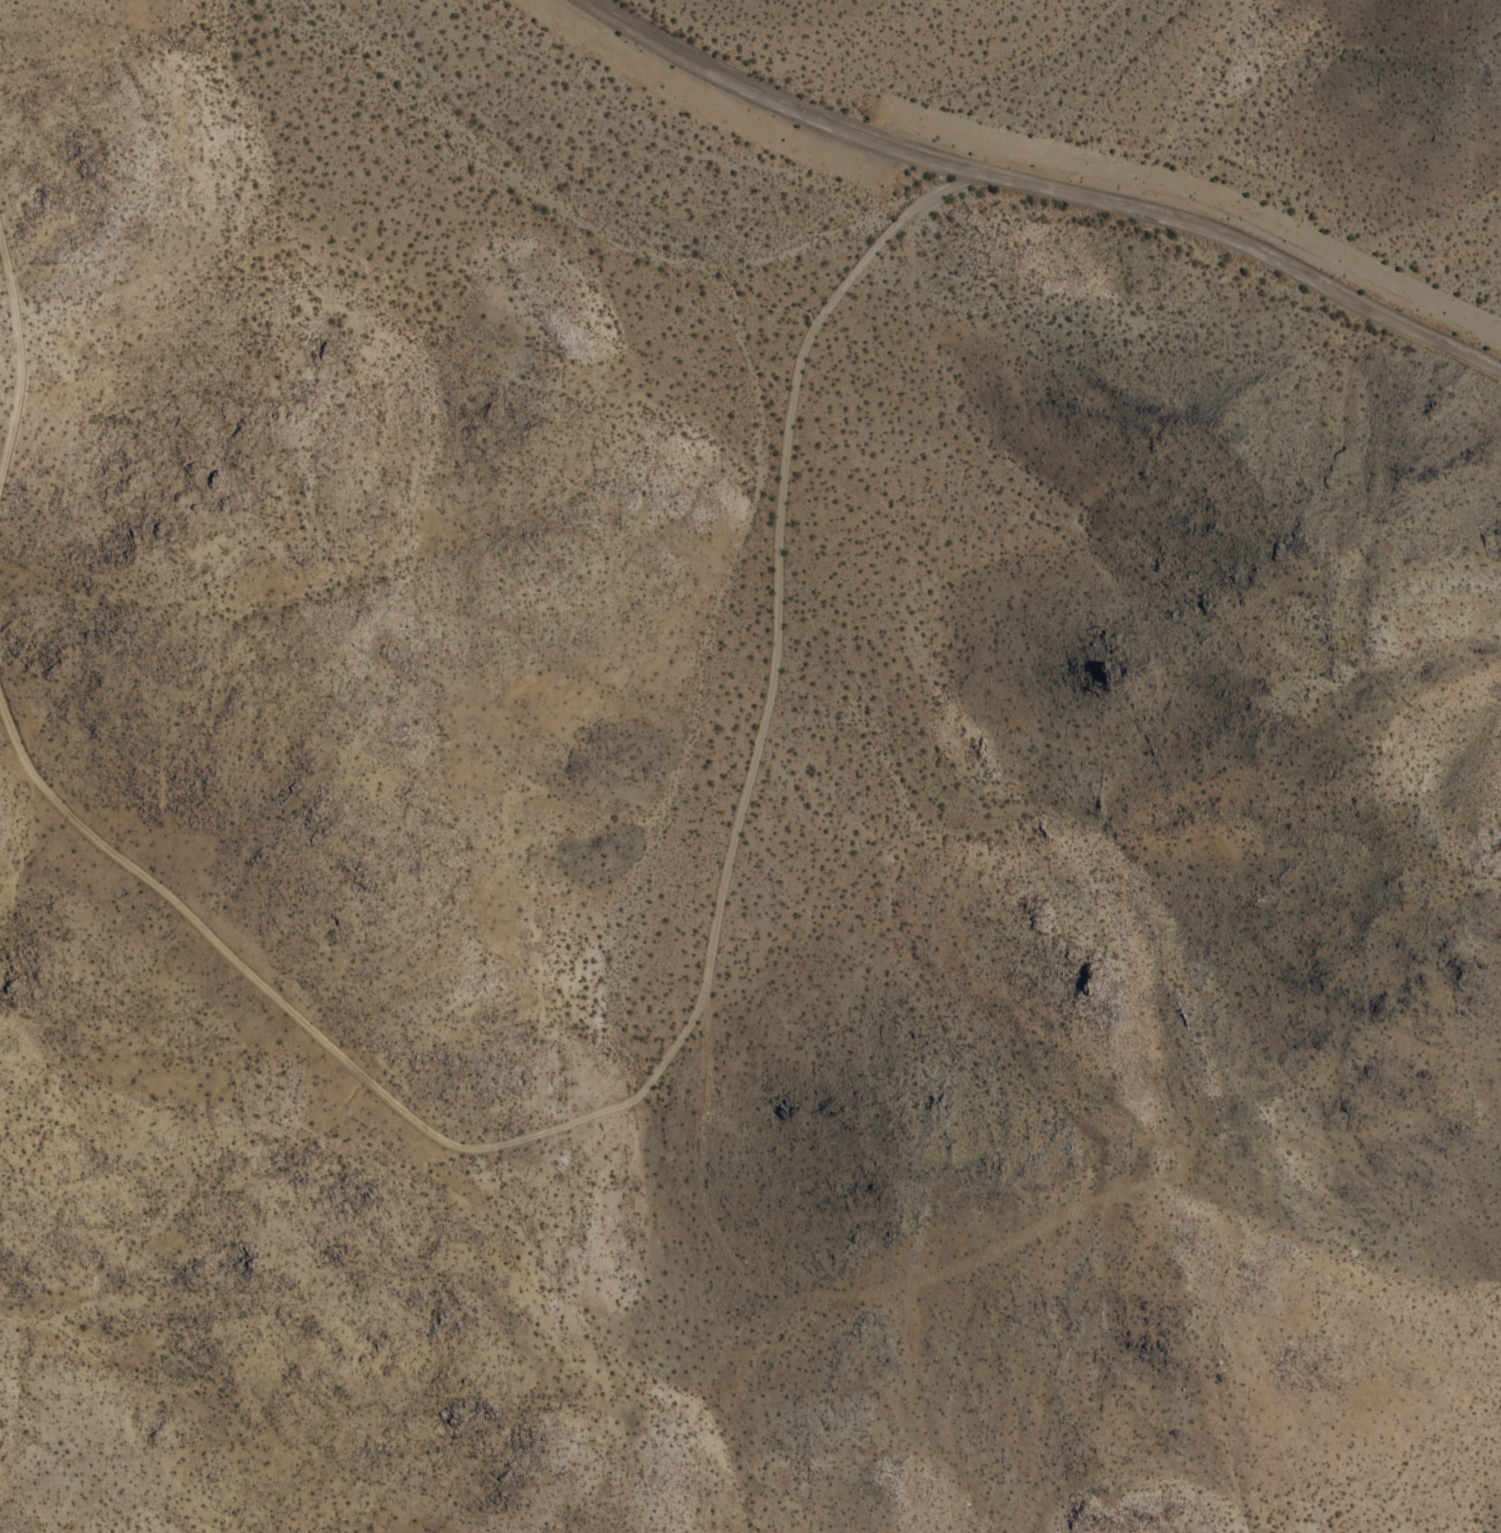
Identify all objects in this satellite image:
road: (1039, 192)
road: (16, 351)
road: (691, 1021)

